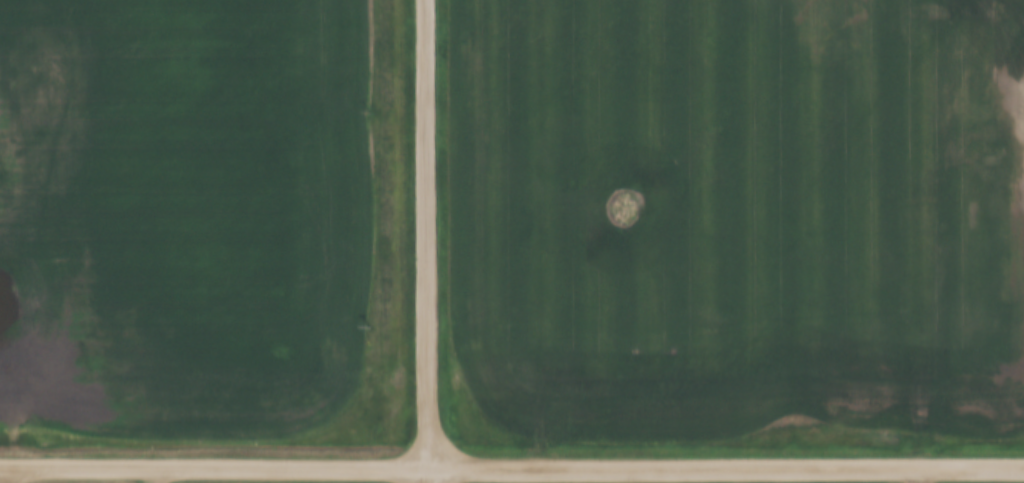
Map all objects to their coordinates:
road: (426, 241)
road: (213, 465)
road: (725, 466)
road: (13, 474)
road: (154, 474)
road: (917, 475)

